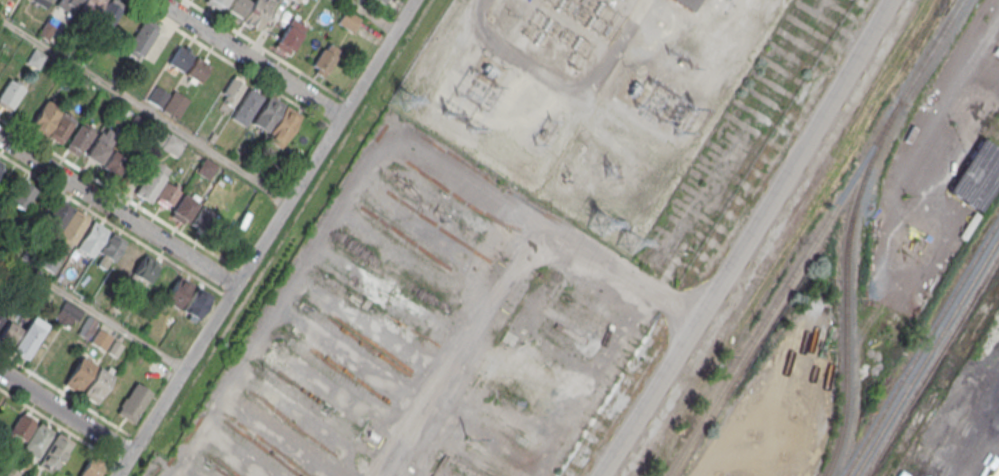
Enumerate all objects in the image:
building: (383, 0)
building: (296, 1)
building: (42, 2)
building: (215, 3)
building: (689, 3)
building: (66, 5)
building: (236, 7)
building: (88, 10)
building: (257, 12)
building: (110, 14)
road: (371, 15)
building: (349, 20)
building: (290, 34)
building: (142, 38)
road: (520, 56)
building: (180, 58)
road: (248, 58)
building: (325, 59)
building: (197, 68)
road: (597, 81)
building: (232, 91)
building: (9, 95)
power tower: (404, 95)
building: (158, 96)
building: (175, 104)
building: (246, 106)
power substation: (617, 106)
building: (26, 108)
road: (145, 109)
building: (267, 113)
building: (45, 117)
building: (284, 123)
building: (61, 127)
building: (78, 139)
building: (172, 144)
building: (99, 145)
building: (0, 162)
building: (114, 162)
building: (1, 164)
building: (207, 167)
power tower: (608, 173)
building: (977, 175)
building: (151, 181)
building: (166, 194)
building: (20, 198)
building: (184, 207)
road: (118, 211)
building: (55, 216)
building: (203, 219)
power tower: (595, 220)
building: (73, 227)
road: (265, 237)
railway: (813, 237)
building: (91, 238)
road: (749, 239)
power tower: (627, 241)
building: (126, 260)
building: (145, 268)
railway: (843, 285)
building: (177, 293)
building: (196, 304)
road: (92, 312)
building: (68, 314)
building: (86, 327)
building: (8, 332)
building: (27, 338)
building: (100, 339)
railway: (920, 344)
railway: (925, 354)
railway: (931, 362)
building: (78, 374)
building: (96, 385)
building: (134, 402)
road: (65, 413)
power tower: (463, 439)
building: (36, 440)
building: (55, 451)

